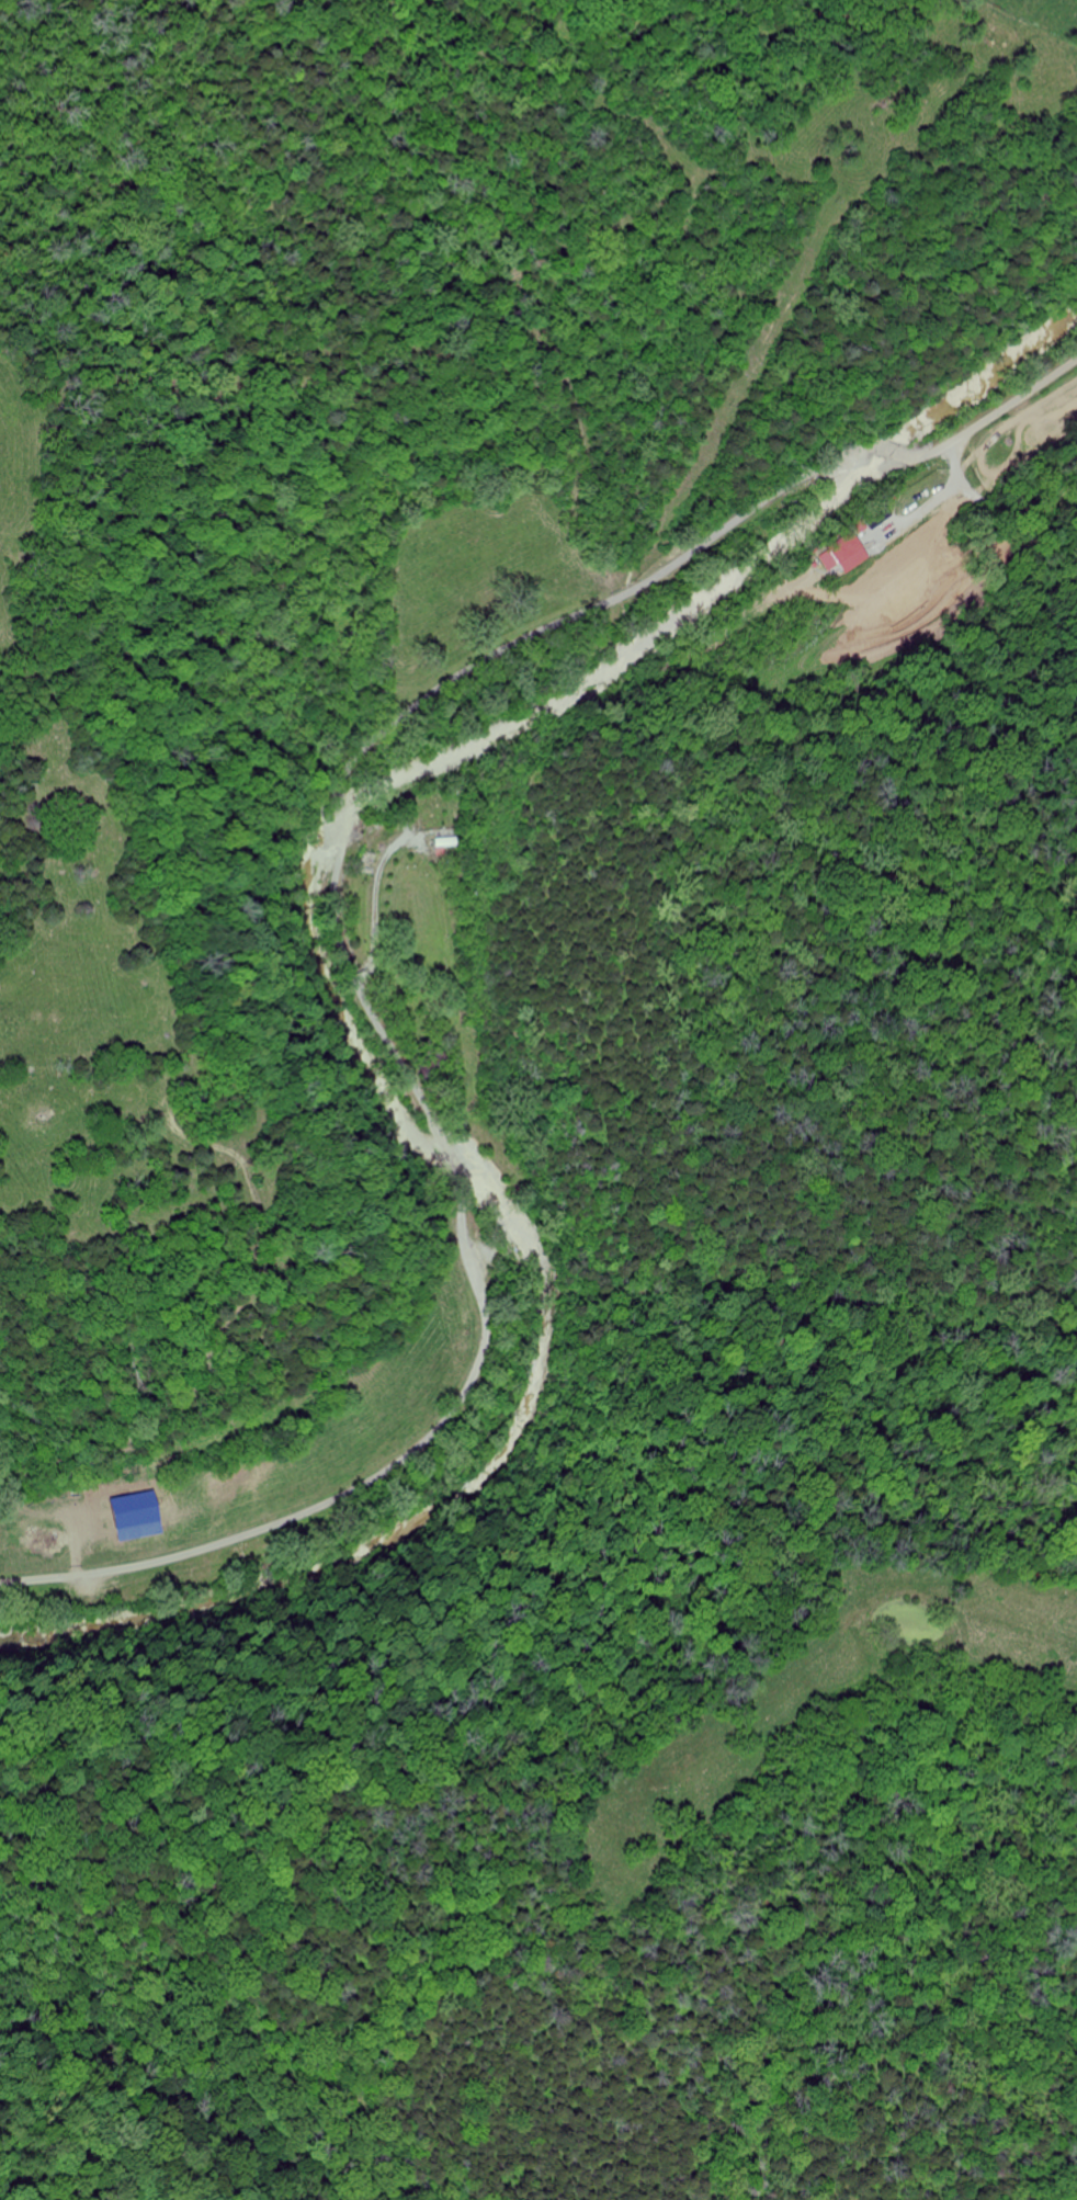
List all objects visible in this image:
building: (842, 547)
road: (339, 933)

